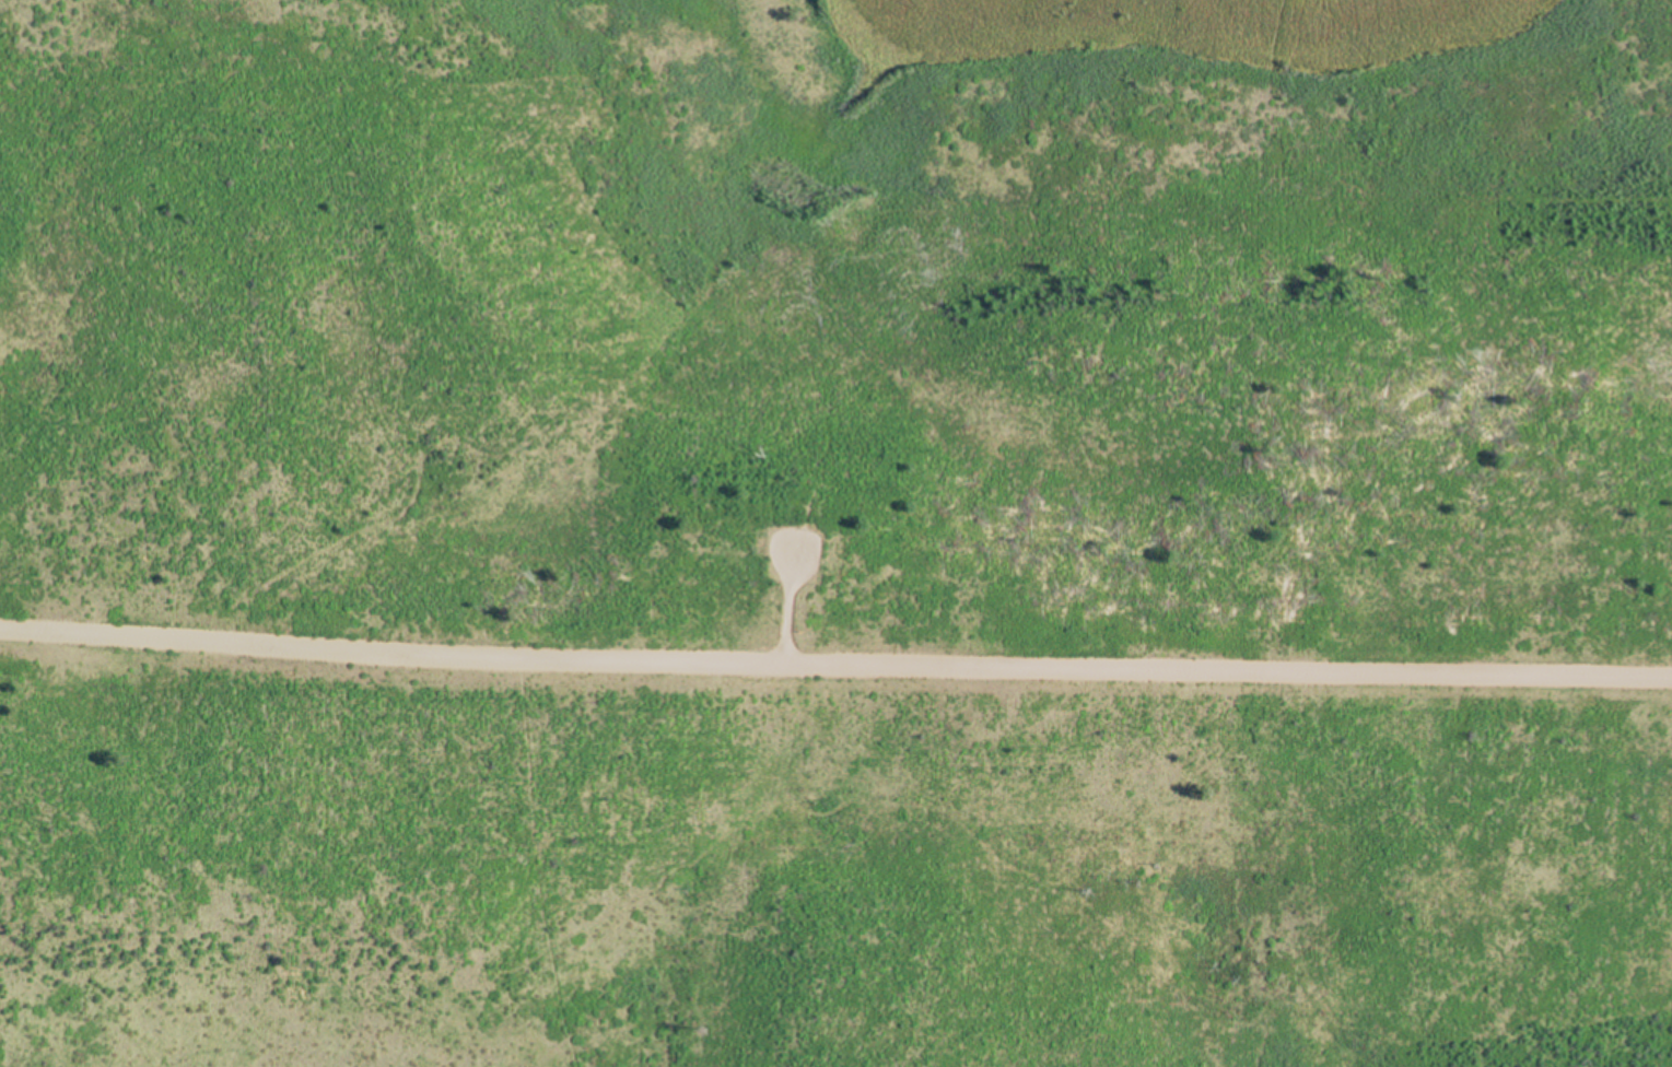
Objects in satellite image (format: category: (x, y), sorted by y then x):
parking lot: (793, 550)
road: (835, 664)

